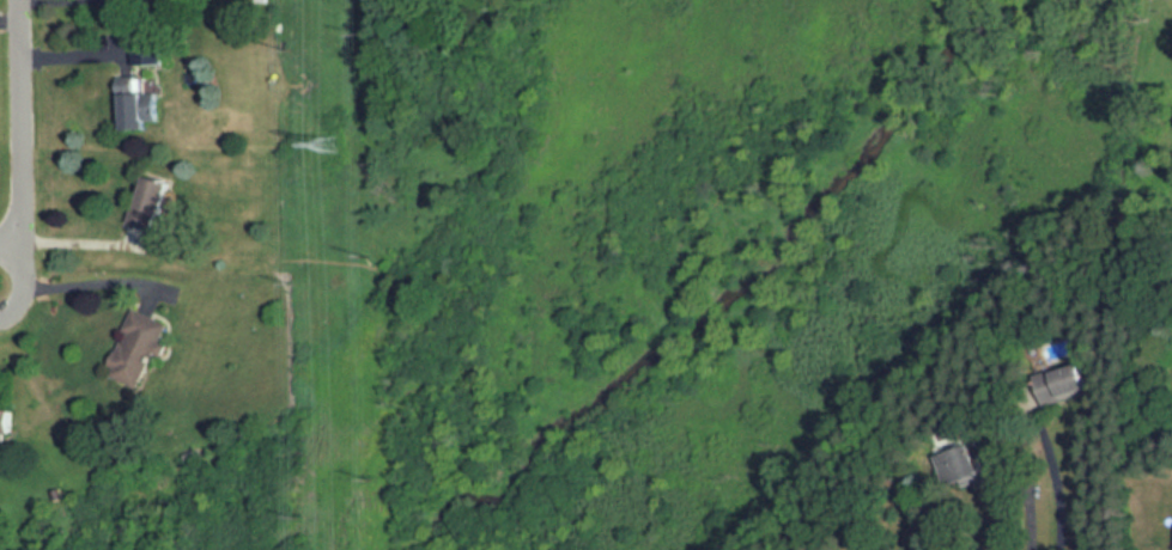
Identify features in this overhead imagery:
road: (54, 0)
building: (141, 103)
road: (18, 135)
power tower: (329, 151)
building: (153, 207)
road: (73, 285)
building: (139, 346)
building: (1073, 380)
building: (8, 421)
building: (966, 465)
road: (1058, 483)
road: (1031, 511)

